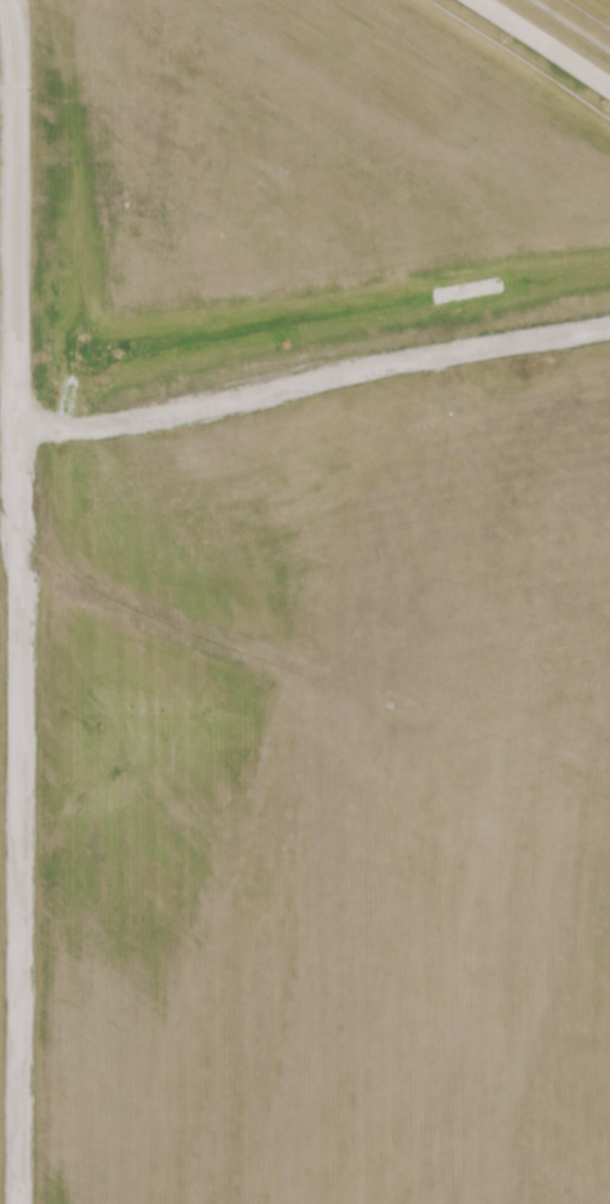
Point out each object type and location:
road: (542, 44)
road: (304, 384)
road: (13, 601)
airport: (304, 602)

